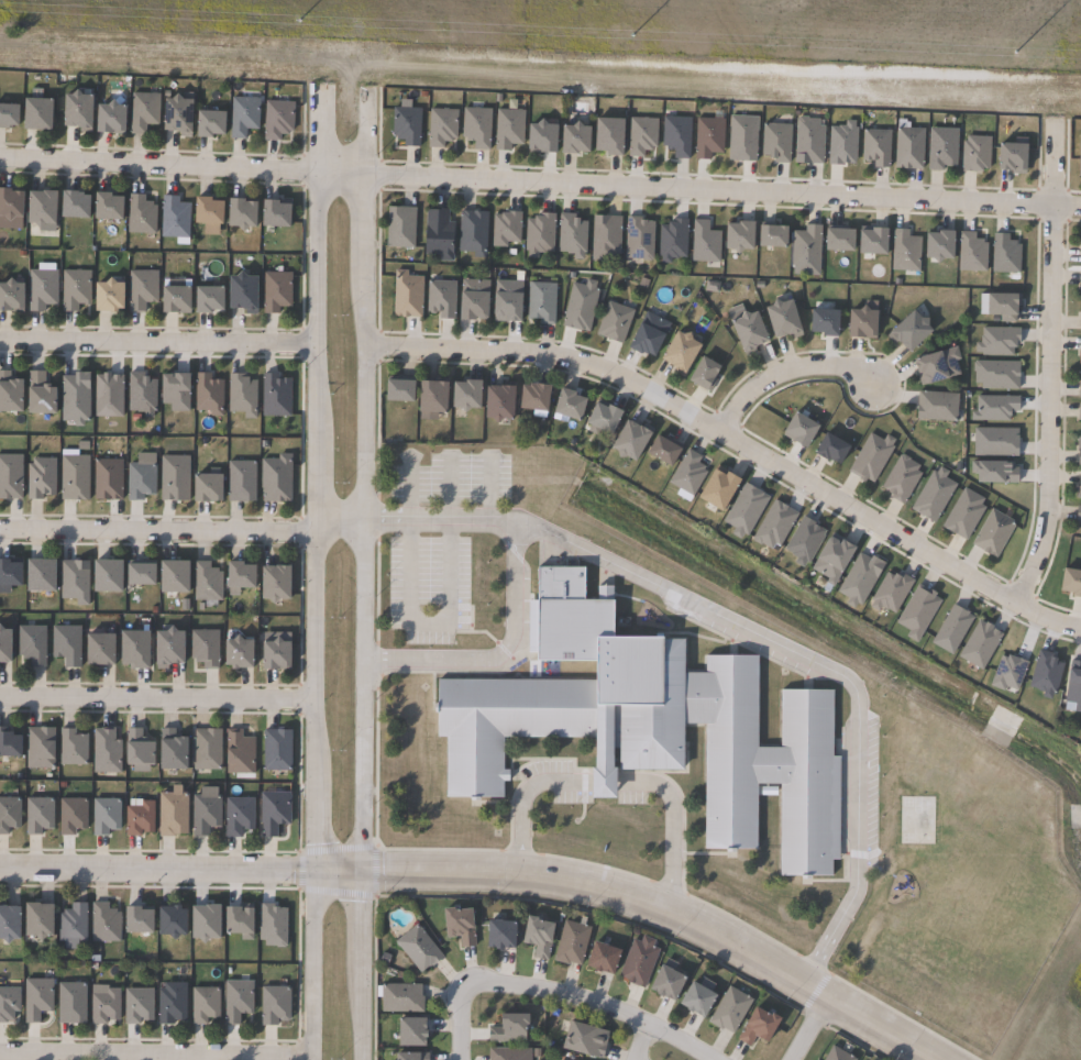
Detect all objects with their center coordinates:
power tower: (104, 16)
power tower: (438, 31)
power tower: (769, 45)
building: (74, 110)
building: (140, 111)
building: (24, 113)
building: (172, 115)
building: (240, 115)
building: (104, 119)
building: (274, 119)
building: (203, 123)
building: (406, 125)
building: (440, 126)
building: (475, 126)
building: (508, 128)
road: (318, 129)
road: (363, 130)
building: (641, 135)
building: (676, 135)
building: (606, 136)
building: (541, 137)
building: (707, 137)
building: (743, 137)
building: (572, 140)
building: (808, 141)
building: (776, 142)
building: (875, 147)
building: (908, 148)
building: (941, 148)
building: (975, 153)
building: (1014, 157)
building: (1080, 157)
road: (540, 181)
building: (7, 205)
building: (67, 205)
building: (101, 207)
building: (34, 208)
building: (201, 211)
building: (234, 214)
building: (268, 214)
building: (136, 216)
building: (170, 218)
building: (399, 228)
building: (506, 228)
building: (472, 232)
building: (438, 234)
building: (539, 234)
building: (572, 235)
building: (740, 235)
building: (605, 236)
building: (773, 236)
building: (639, 239)
building: (673, 240)
building: (840, 240)
building: (873, 241)
building: (705, 242)
building: (940, 244)
building: (806, 246)
building: (1080, 250)
building: (906, 251)
building: (972, 253)
building: (1005, 254)
building: (1080, 276)
building: (44, 289)
building: (73, 289)
building: (137, 290)
building: (273, 291)
building: (236, 292)
building: (14, 296)
building: (406, 296)
building: (102, 297)
building: (440, 298)
building: (471, 299)
building: (169, 300)
building: (202, 300)
building: (540, 301)
building: (1003, 306)
building: (781, 320)
building: (614, 321)
building: (825, 322)
building: (1080, 323)
building: (860, 324)
building: (908, 332)
building: (747, 333)
building: (647, 335)
road: (157, 343)
building: (677, 353)
building: (1079, 358)
road: (1047, 365)
building: (938, 366)
road: (786, 372)
building: (704, 373)
building: (1079, 390)
building: (173, 391)
building: (396, 391)
building: (13, 393)
building: (45, 394)
building: (139, 395)
building: (205, 395)
building: (104, 396)
building: (239, 396)
building: (272, 396)
building: (463, 396)
building: (430, 398)
building: (534, 398)
building: (499, 402)
building: (570, 405)
building: (936, 407)
building: (1079, 411)
building: (604, 418)
building: (801, 431)
building: (630, 440)
road: (735, 442)
building: (832, 450)
building: (661, 452)
building: (1078, 456)
building: (872, 457)
building: (688, 473)
building: (9, 476)
building: (71, 477)
building: (37, 478)
building: (172, 478)
building: (274, 479)
building: (902, 479)
building: (104, 481)
building: (136, 481)
building: (236, 482)
road: (488, 485)
building: (1080, 486)
building: (203, 489)
building: (719, 489)
building: (934, 495)
building: (746, 510)
building: (964, 515)
building: (1078, 515)
road: (315, 521)
road: (362, 522)
building: (774, 526)
road: (180, 531)
building: (994, 533)
building: (805, 541)
building: (834, 561)
building: (8, 574)
building: (137, 575)
building: (36, 576)
building: (103, 577)
building: (169, 577)
building: (234, 577)
building: (202, 582)
building: (1071, 583)
building: (268, 584)
building: (891, 593)
building: (918, 614)
road: (428, 623)
road: (753, 637)
building: (64, 643)
building: (34, 645)
building: (162, 645)
building: (8, 647)
building: (128, 647)
building: (200, 647)
building: (92, 648)
building: (231, 651)
building: (268, 652)
road: (503, 660)
building: (1047, 675)
building: (1073, 684)
road: (156, 700)
building: (650, 725)
building: (12, 744)
building: (36, 746)
building: (68, 747)
building: (133, 747)
building: (202, 748)
building: (166, 749)
building: (273, 749)
building: (101, 750)
building: (235, 752)
road: (611, 780)
building: (7, 813)
building: (200, 813)
building: (271, 813)
building: (34, 814)
building: (167, 814)
building: (68, 815)
building: (100, 815)
building: (234, 815)
building: (135, 818)
road: (155, 868)
traffic signals: (311, 870)
road: (335, 870)
traffic signals: (361, 871)
road: (146, 888)
road: (668, 910)
building: (31, 919)
building: (131, 919)
building: (165, 920)
building: (198, 921)
building: (4, 923)
building: (100, 923)
building: (68, 925)
building: (456, 925)
building: (236, 930)
building: (497, 934)
building: (534, 936)
building: (570, 942)
building: (417, 948)
building: (599, 957)
building: (637, 963)
road: (311, 964)
road: (360, 965)
building: (664, 980)
building: (400, 997)
building: (33, 998)
building: (694, 998)
building: (232, 1000)
road: (594, 1001)
building: (5, 1002)
building: (67, 1003)
building: (167, 1003)
building: (99, 1004)
building: (200, 1004)
building: (271, 1004)
building: (133, 1005)
building: (729, 1009)
road: (456, 1022)
building: (755, 1026)
road: (807, 1026)
building: (507, 1028)
building: (408, 1031)
building: (583, 1040)
road: (641, 1042)
road: (225, 1045)
road: (155, 1053)
building: (508, 1053)
building: (836, 1055)
building: (409, 1056)

